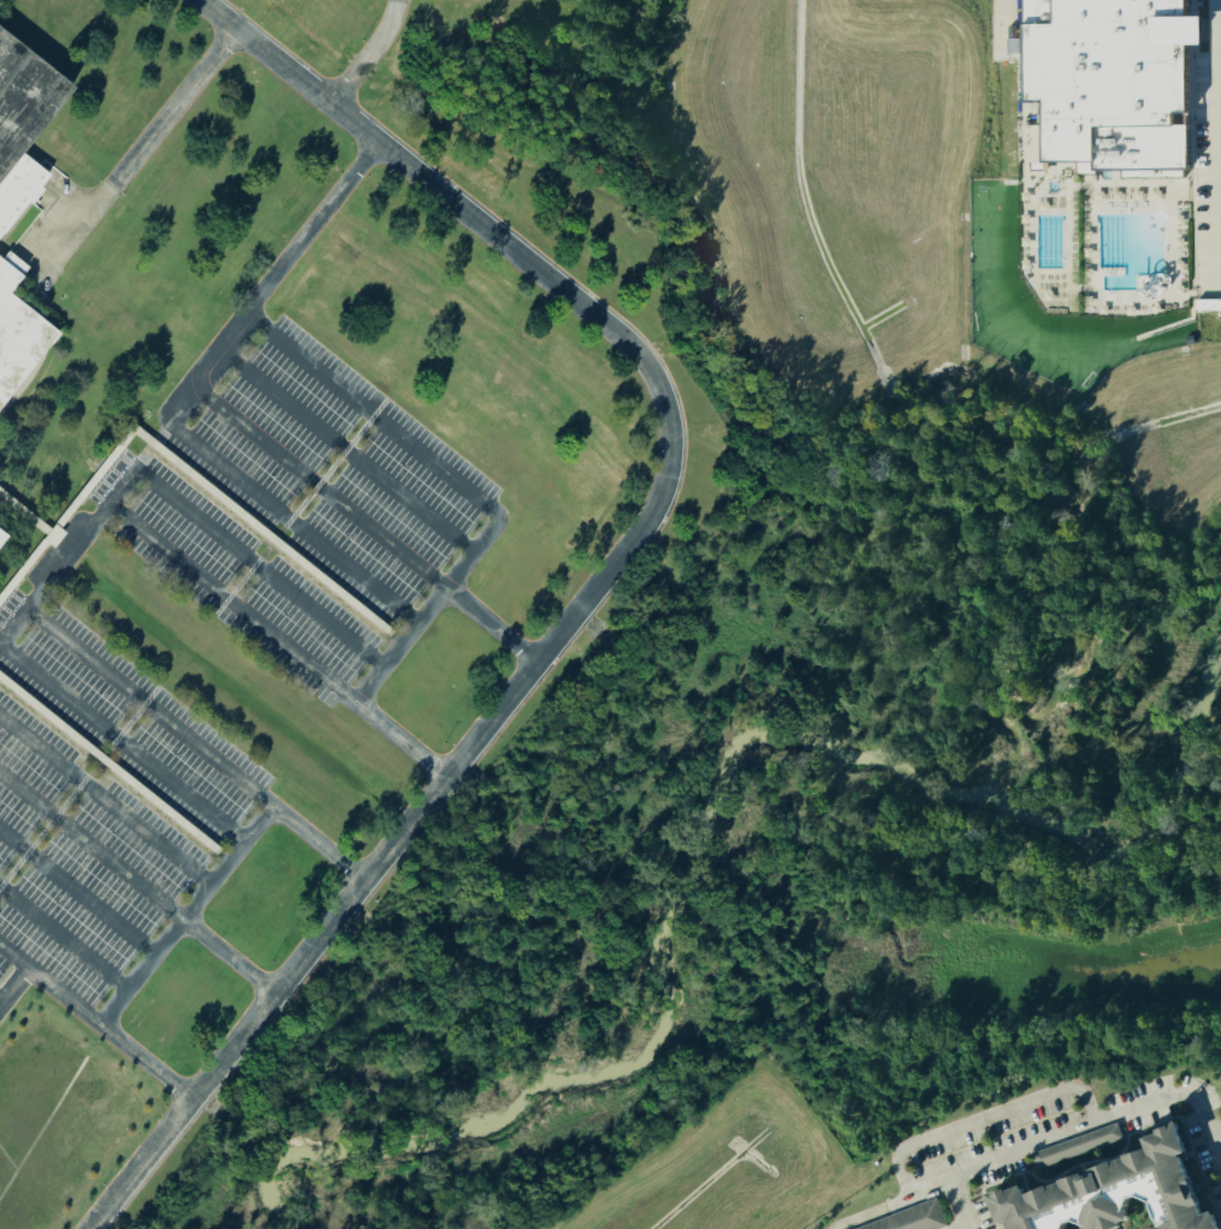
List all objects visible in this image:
road: (1215, 57)
road: (373, 58)
road: (1219, 72)
building: (1108, 82)
road: (1219, 114)
building: (23, 125)
road: (152, 134)
road: (1219, 161)
road: (1219, 195)
road: (1216, 205)
road: (486, 229)
road: (1219, 246)
building: (14, 264)
road: (283, 266)
road: (48, 268)
building: (1209, 305)
building: (18, 339)
building: (1189, 339)
road: (371, 419)
road: (344, 454)
road: (273, 510)
road: (101, 515)
road: (363, 525)
building: (1, 538)
road: (241, 561)
road: (429, 613)
road: (11, 627)
road: (120, 746)
river: (831, 792)
road: (105, 803)
parking lot: (91, 823)
road: (318, 845)
road: (90, 849)
road: (371, 873)
road: (76, 897)
road: (184, 915)
road: (61, 941)
road: (227, 957)
road: (49, 982)
road: (14, 987)
road: (1, 1003)
road: (146, 1062)
road: (1009, 1105)
road: (1216, 1140)
building: (1080, 1146)
road: (1003, 1156)
building: (1130, 1190)
road: (958, 1204)
building: (915, 1219)
road: (830, 1228)

